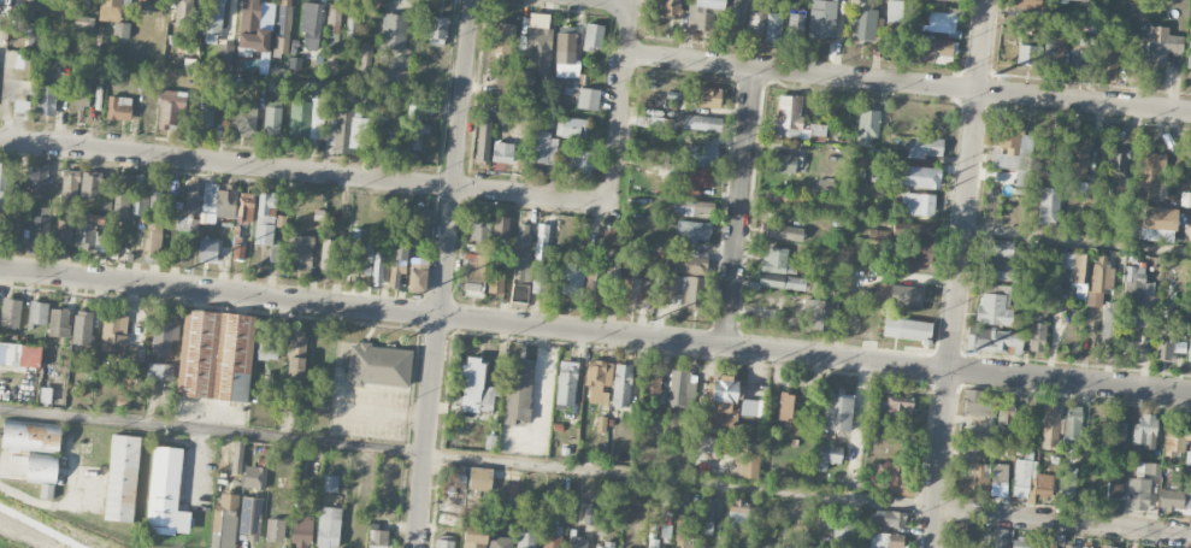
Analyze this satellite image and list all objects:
building: (947, 0)
building: (1074, 0)
road: (614, 1)
building: (81, 4)
building: (1026, 4)
building: (146, 5)
building: (670, 8)
building: (110, 10)
building: (701, 12)
building: (894, 12)
building: (732, 13)
building: (185, 14)
building: (212, 17)
building: (823, 18)
building: (756, 19)
building: (83, 22)
building: (334, 22)
building: (939, 23)
building: (350, 24)
building: (311, 25)
building: (773, 25)
building: (862, 25)
building: (283, 26)
building: (252, 28)
building: (795, 28)
building: (120, 30)
building: (436, 30)
building: (393, 31)
building: (592, 36)
building: (30, 37)
building: (501, 37)
building: (538, 41)
building: (1161, 45)
building: (1189, 49)
building: (936, 51)
building: (1054, 52)
building: (1078, 53)
building: (365, 54)
building: (565, 55)
building: (1028, 55)
building: (223, 57)
building: (1108, 61)
power tower: (992, 75)
building: (397, 77)
road: (908, 84)
building: (525, 86)
building: (503, 88)
building: (79, 95)
building: (46, 96)
building: (707, 98)
building: (588, 99)
road: (619, 104)
building: (20, 106)
building: (118, 108)
building: (170, 108)
building: (413, 113)
building: (204, 114)
building: (243, 118)
building: (272, 118)
building: (303, 120)
building: (794, 120)
building: (653, 122)
building: (698, 123)
building: (867, 125)
building: (571, 128)
building: (346, 132)
building: (414, 136)
building: (379, 137)
building: (483, 141)
building: (542, 148)
building: (924, 148)
building: (1012, 152)
building: (502, 154)
building: (703, 155)
building: (1077, 160)
building: (782, 163)
building: (1116, 163)
building: (583, 164)
building: (1190, 165)
road: (303, 172)
building: (915, 177)
building: (1148, 177)
building: (37, 178)
building: (692, 179)
building: (90, 184)
building: (70, 185)
building: (824, 187)
building: (1086, 190)
building: (154, 191)
building: (138, 194)
building: (122, 198)
building: (191, 198)
building: (780, 198)
building: (1185, 200)
building: (217, 202)
building: (918, 205)
building: (244, 207)
road: (741, 207)
building: (1048, 207)
building: (692, 208)
building: (265, 218)
building: (420, 222)
building: (187, 223)
building: (403, 224)
building: (1157, 224)
building: (10, 225)
building: (36, 226)
building: (479, 228)
building: (500, 228)
building: (64, 231)
building: (696, 231)
building: (782, 231)
building: (88, 232)
building: (524, 234)
building: (153, 240)
road: (1077, 241)
building: (915, 246)
building: (997, 248)
building: (207, 252)
building: (237, 252)
building: (300, 252)
building: (360, 253)
building: (328, 257)
building: (540, 259)
building: (686, 261)
building: (1074, 266)
building: (396, 267)
power tower: (184, 271)
building: (377, 271)
building: (779, 271)
building: (996, 271)
building: (473, 272)
road: (442, 273)
road: (957, 273)
building: (417, 277)
building: (572, 278)
building: (496, 279)
building: (520, 279)
building: (845, 281)
building: (1099, 281)
building: (630, 288)
building: (684, 288)
building: (906, 295)
power tower: (413, 296)
building: (1138, 296)
building: (994, 306)
building: (11, 313)
building: (37, 313)
building: (816, 316)
power tower: (650, 322)
building: (1108, 322)
building: (58, 323)
building: (82, 328)
building: (906, 329)
building: (1037, 330)
road: (595, 332)
building: (113, 334)
building: (163, 337)
building: (994, 341)
building: (1167, 346)
building: (267, 347)
building: (1190, 352)
power tower: (963, 354)
building: (19, 355)
building: (214, 355)
building: (296, 359)
building: (378, 365)
building: (159, 372)
building: (599, 381)
building: (566, 383)
building: (621, 385)
building: (651, 387)
building: (476, 388)
building: (519, 394)
building: (979, 403)
building: (898, 406)
building: (751, 408)
building: (789, 408)
road: (378, 411)
building: (837, 412)
building: (1004, 424)
building: (1049, 424)
building: (1072, 426)
building: (1116, 426)
building: (1144, 431)
building: (974, 437)
building: (1173, 440)
building: (35, 450)
building: (237, 456)
building: (829, 456)
building: (1186, 459)
building: (7, 461)
building: (747, 462)
building: (1145, 470)
building: (890, 471)
road: (595, 473)
building: (254, 477)
building: (980, 477)
building: (1022, 477)
building: (122, 478)
building: (998, 479)
building: (495, 481)
building: (329, 485)
building: (1043, 487)
building: (1065, 488)
building: (166, 494)
building: (1137, 494)
building: (1174, 500)
building: (738, 514)
building: (224, 517)
building: (588, 517)
building: (708, 517)
building: (249, 518)
building: (889, 519)
building: (448, 526)
road: (39, 528)
building: (328, 528)
building: (686, 528)
building: (841, 528)
building: (275, 530)
building: (665, 531)
building: (301, 532)
building: (473, 537)
building: (379, 538)
building: (525, 538)
building: (1000, 538)
building: (550, 541)
building: (885, 541)
building: (960, 541)
building: (500, 542)
building: (577, 542)
building: (1020, 542)
building: (1049, 542)
building: (651, 543)
building: (443, 544)
building: (603, 546)
building: (786, 547)
building: (814, 547)
building: (1068, 547)
building: (1085, 547)
building: (1109, 547)

